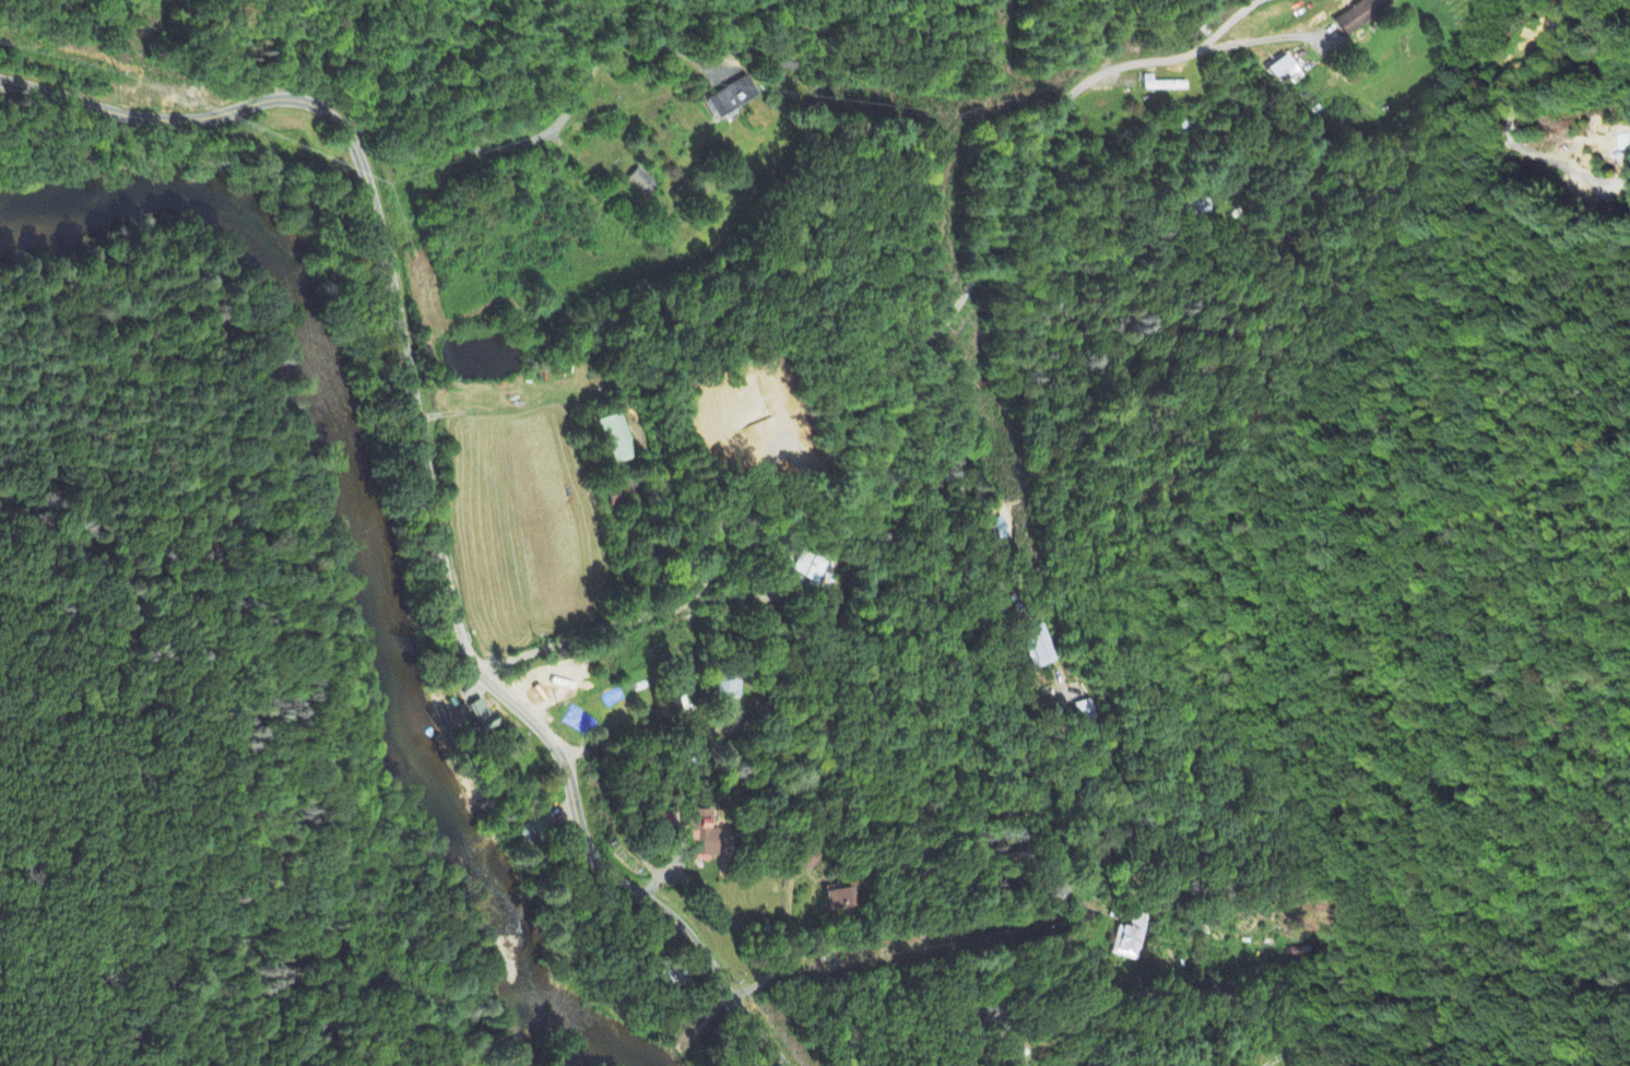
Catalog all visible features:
building: (1360, 14)
building: (1280, 68)
building: (1160, 85)
building: (1129, 88)
building: (734, 95)
road: (548, 131)
building: (639, 181)
building: (1196, 205)
road: (902, 363)
river: (344, 417)
building: (616, 438)
road: (430, 470)
building: (811, 570)
building: (1037, 648)
building: (727, 687)
building: (1086, 712)
building: (479, 716)
road: (855, 748)
road: (1394, 818)
building: (533, 829)
building: (699, 834)
building: (806, 858)
road: (1044, 869)
building: (838, 900)
building: (1129, 938)
river: (534, 993)
building: (980, 1014)
road: (735, 1041)

